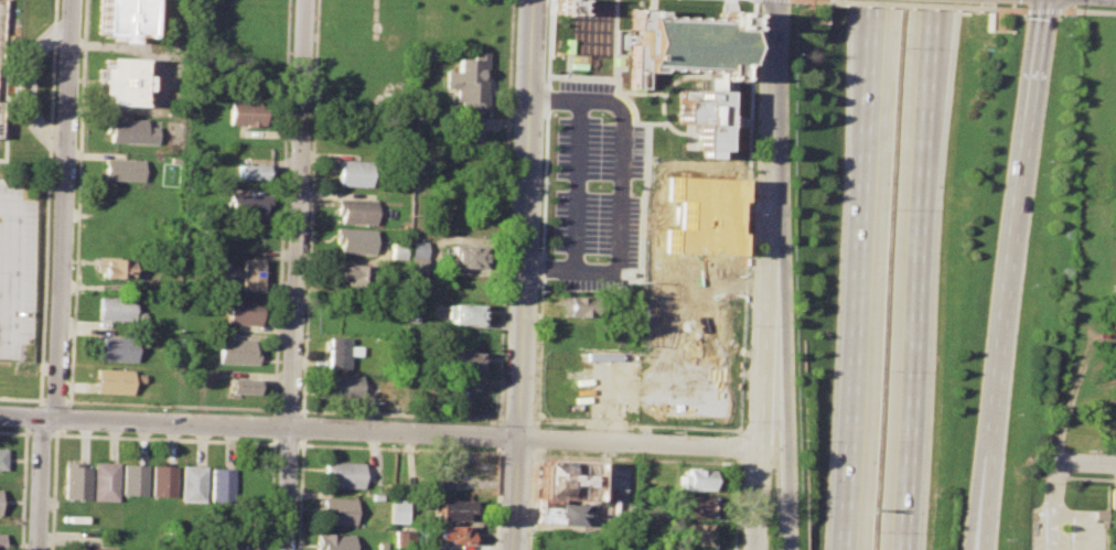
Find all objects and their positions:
road: (807, 0)
street lamp: (548, 1)
street lamp: (985, 3)
road: (910, 6)
building: (564, 7)
street lamp: (1077, 7)
road: (1009, 9)
road: (1043, 10)
road: (1088, 10)
building: (122, 19)
road: (816, 19)
building: (0, 26)
road: (1002, 28)
street lamp: (1064, 34)
road: (614, 39)
building: (687, 44)
street lamp: (796, 54)
street lamp: (545, 78)
building: (120, 82)
building: (470, 83)
road: (18, 84)
road: (29, 85)
building: (0, 101)
building: (246, 112)
street lamp: (601, 114)
building: (704, 119)
building: (129, 130)
road: (646, 133)
street lamp: (1048, 161)
building: (122, 170)
building: (251, 171)
building: (352, 173)
street lamp: (540, 181)
street lamp: (795, 181)
road: (577, 184)
street lamp: (598, 186)
road: (619, 186)
road: (49, 199)
road: (78, 201)
building: (247, 206)
road: (281, 207)
road: (311, 207)
road: (65, 209)
building: (354, 211)
road: (505, 212)
road: (541, 213)
road: (298, 214)
building: (701, 214)
street lamp: (751, 214)
building: (353, 241)
building: (397, 249)
building: (417, 257)
building: (465, 257)
street lamp: (594, 258)
parking lot: (15, 267)
building: (115, 269)
road: (11, 270)
road: (686, 272)
road: (1010, 273)
building: (249, 274)
building: (350, 274)
road: (522, 274)
road: (770, 274)
road: (860, 274)
road: (919, 274)
street lamp: (1032, 285)
street lamp: (537, 291)
road: (647, 302)
building: (576, 306)
building: (116, 308)
street lamp: (796, 309)
building: (242, 312)
building: (464, 313)
road: (743, 319)
street lamp: (747, 325)
building: (116, 348)
building: (236, 352)
building: (339, 353)
building: (462, 362)
street lamp: (534, 368)
building: (112, 380)
building: (343, 385)
building: (243, 386)
road: (23, 399)
road: (55, 400)
road: (41, 403)
road: (68, 403)
road: (172, 405)
building: (389, 406)
road: (289, 410)
road: (400, 413)
street lamp: (1018, 414)
road: (21, 417)
road: (33, 417)
road: (50, 418)
road: (62, 418)
road: (516, 418)
street lamp: (743, 420)
street lamp: (494, 424)
road: (275, 427)
road: (302, 427)
street lamp: (540, 427)
road: (776, 429)
road: (14, 432)
road: (41, 433)
road: (407, 433)
road: (497, 434)
road: (165, 438)
road: (534, 438)
street lamp: (801, 440)
road: (288, 444)
road: (399, 447)
road: (514, 452)
building: (2, 459)
road: (675, 461)
street lamp: (529, 462)
road: (1077, 464)
street lamp: (740, 471)
building: (343, 474)
building: (133, 478)
building: (565, 478)
building: (695, 479)
building: (74, 481)
building: (105, 481)
building: (162, 482)
building: (192, 483)
road: (1053, 483)
road: (41, 484)
building: (221, 484)
road: (23, 487)
road: (53, 489)
road: (287, 489)
road: (271, 494)
road: (300, 494)
road: (496, 497)
building: (1113, 498)
road: (530, 499)
building: (694, 506)
building: (448, 508)
building: (336, 510)
building: (397, 510)
building: (557, 510)
road: (1077, 517)
road: (1049, 526)
parking lot: (1063, 528)
building: (450, 533)
building: (695, 533)
street lamp: (525, 538)
street lamp: (1008, 539)
building: (1, 540)
building: (333, 541)
building: (236, 544)
building: (98, 548)

